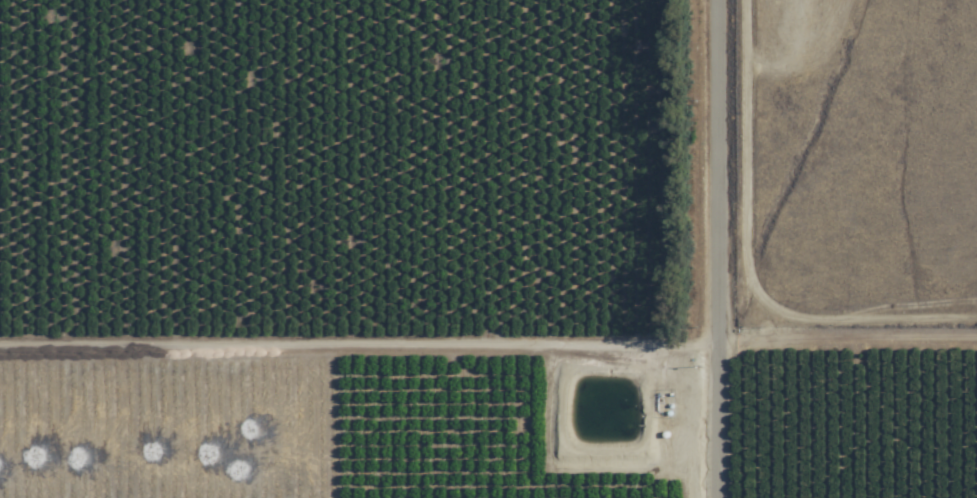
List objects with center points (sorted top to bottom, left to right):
building: (217, 53)
building: (416, 66)
road: (811, 179)
road: (723, 249)
crop: (403, 267)
road: (361, 344)
road: (850, 350)
wastewater plant: (605, 415)

